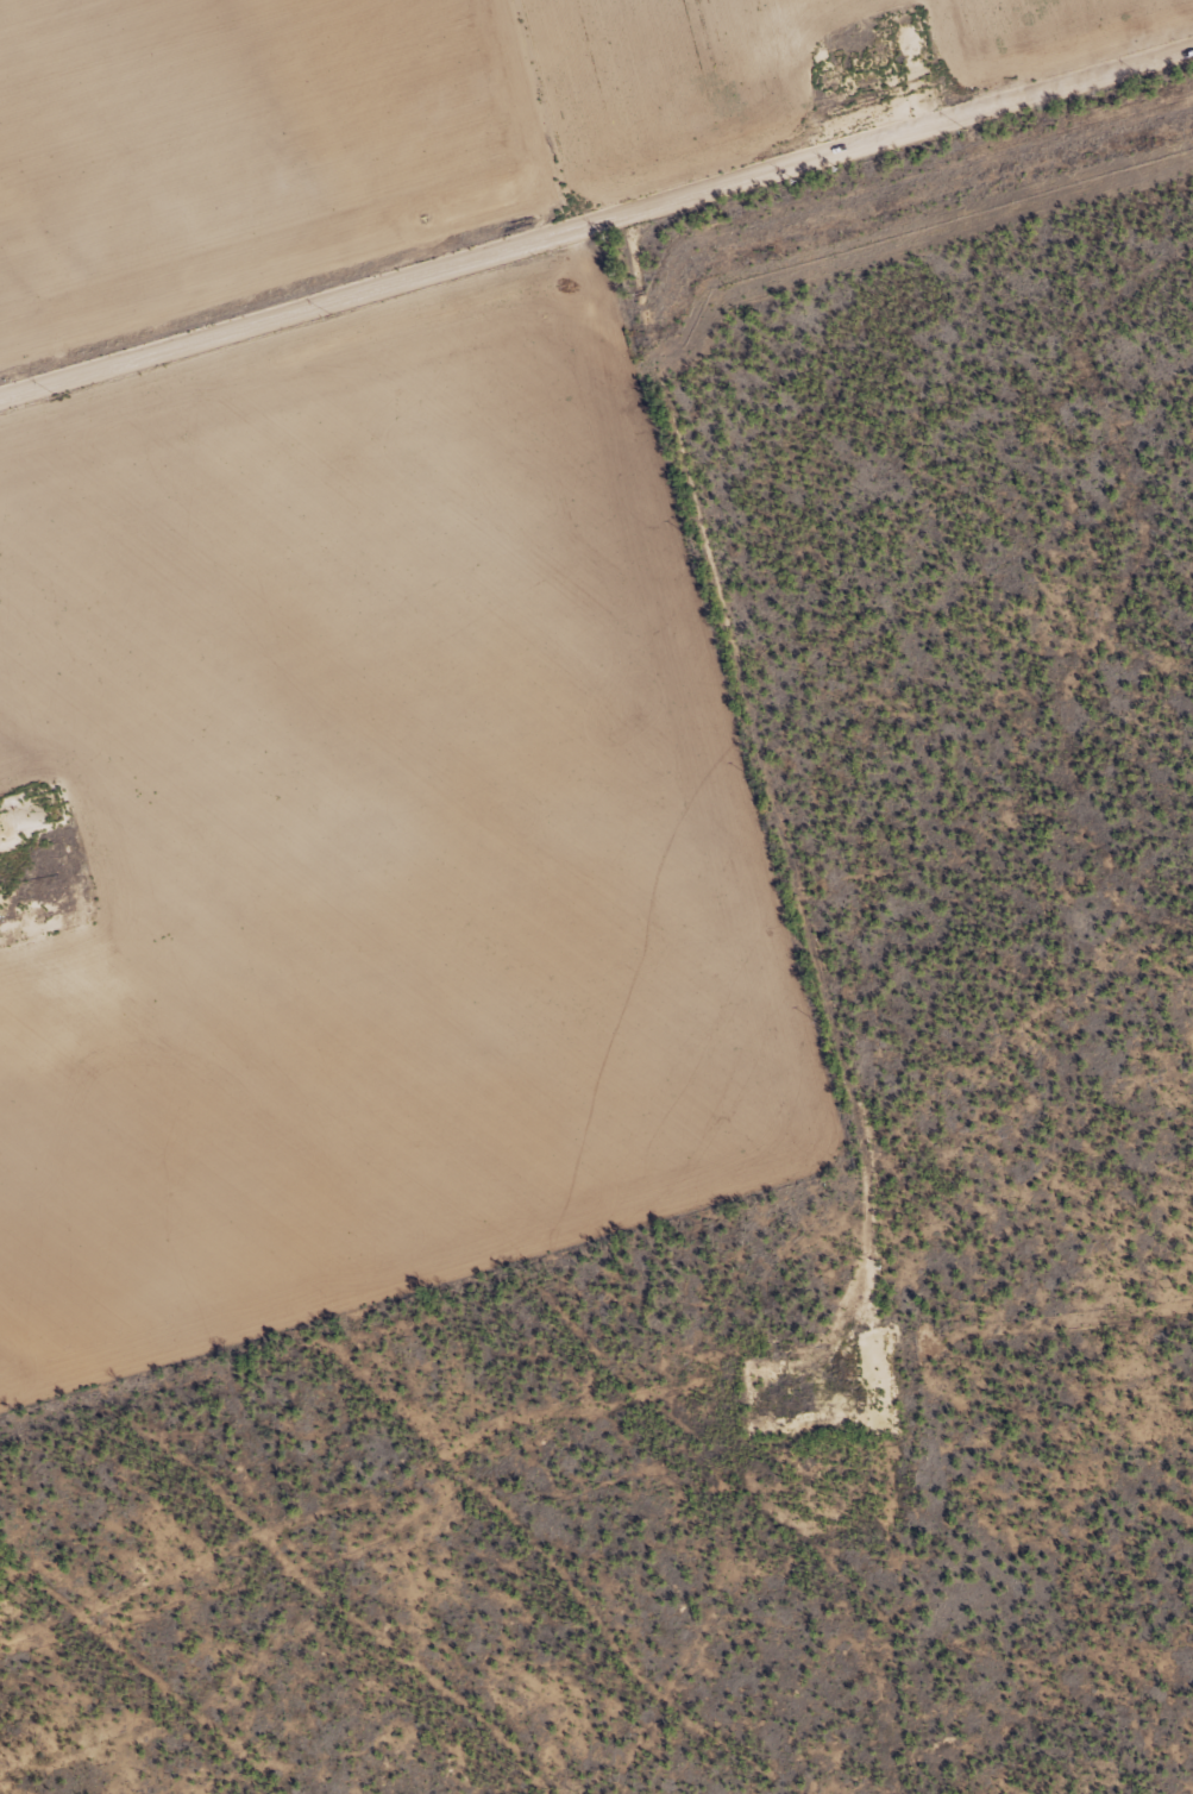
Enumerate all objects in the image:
road: (596, 228)

